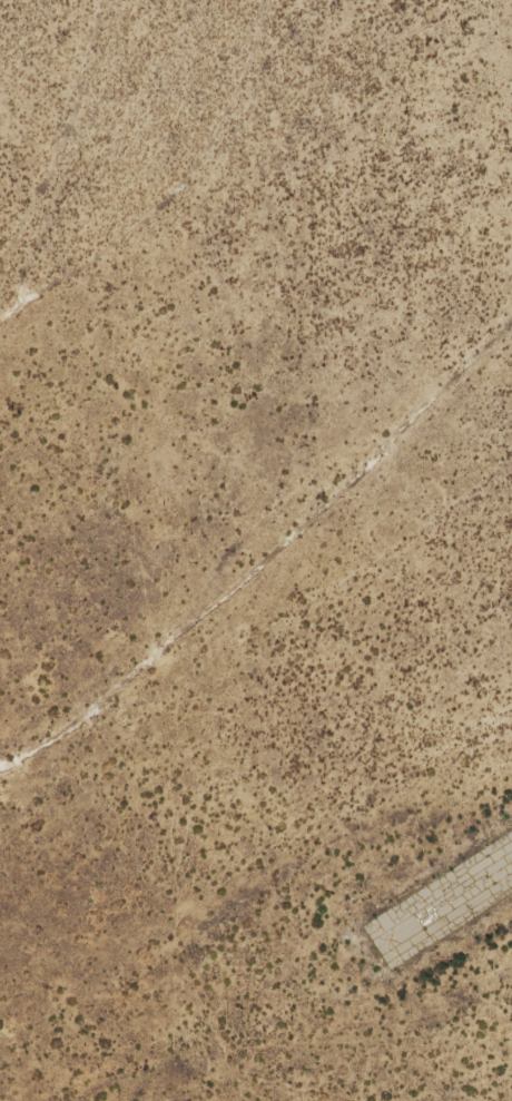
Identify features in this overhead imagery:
airport runway: (450, 896)

